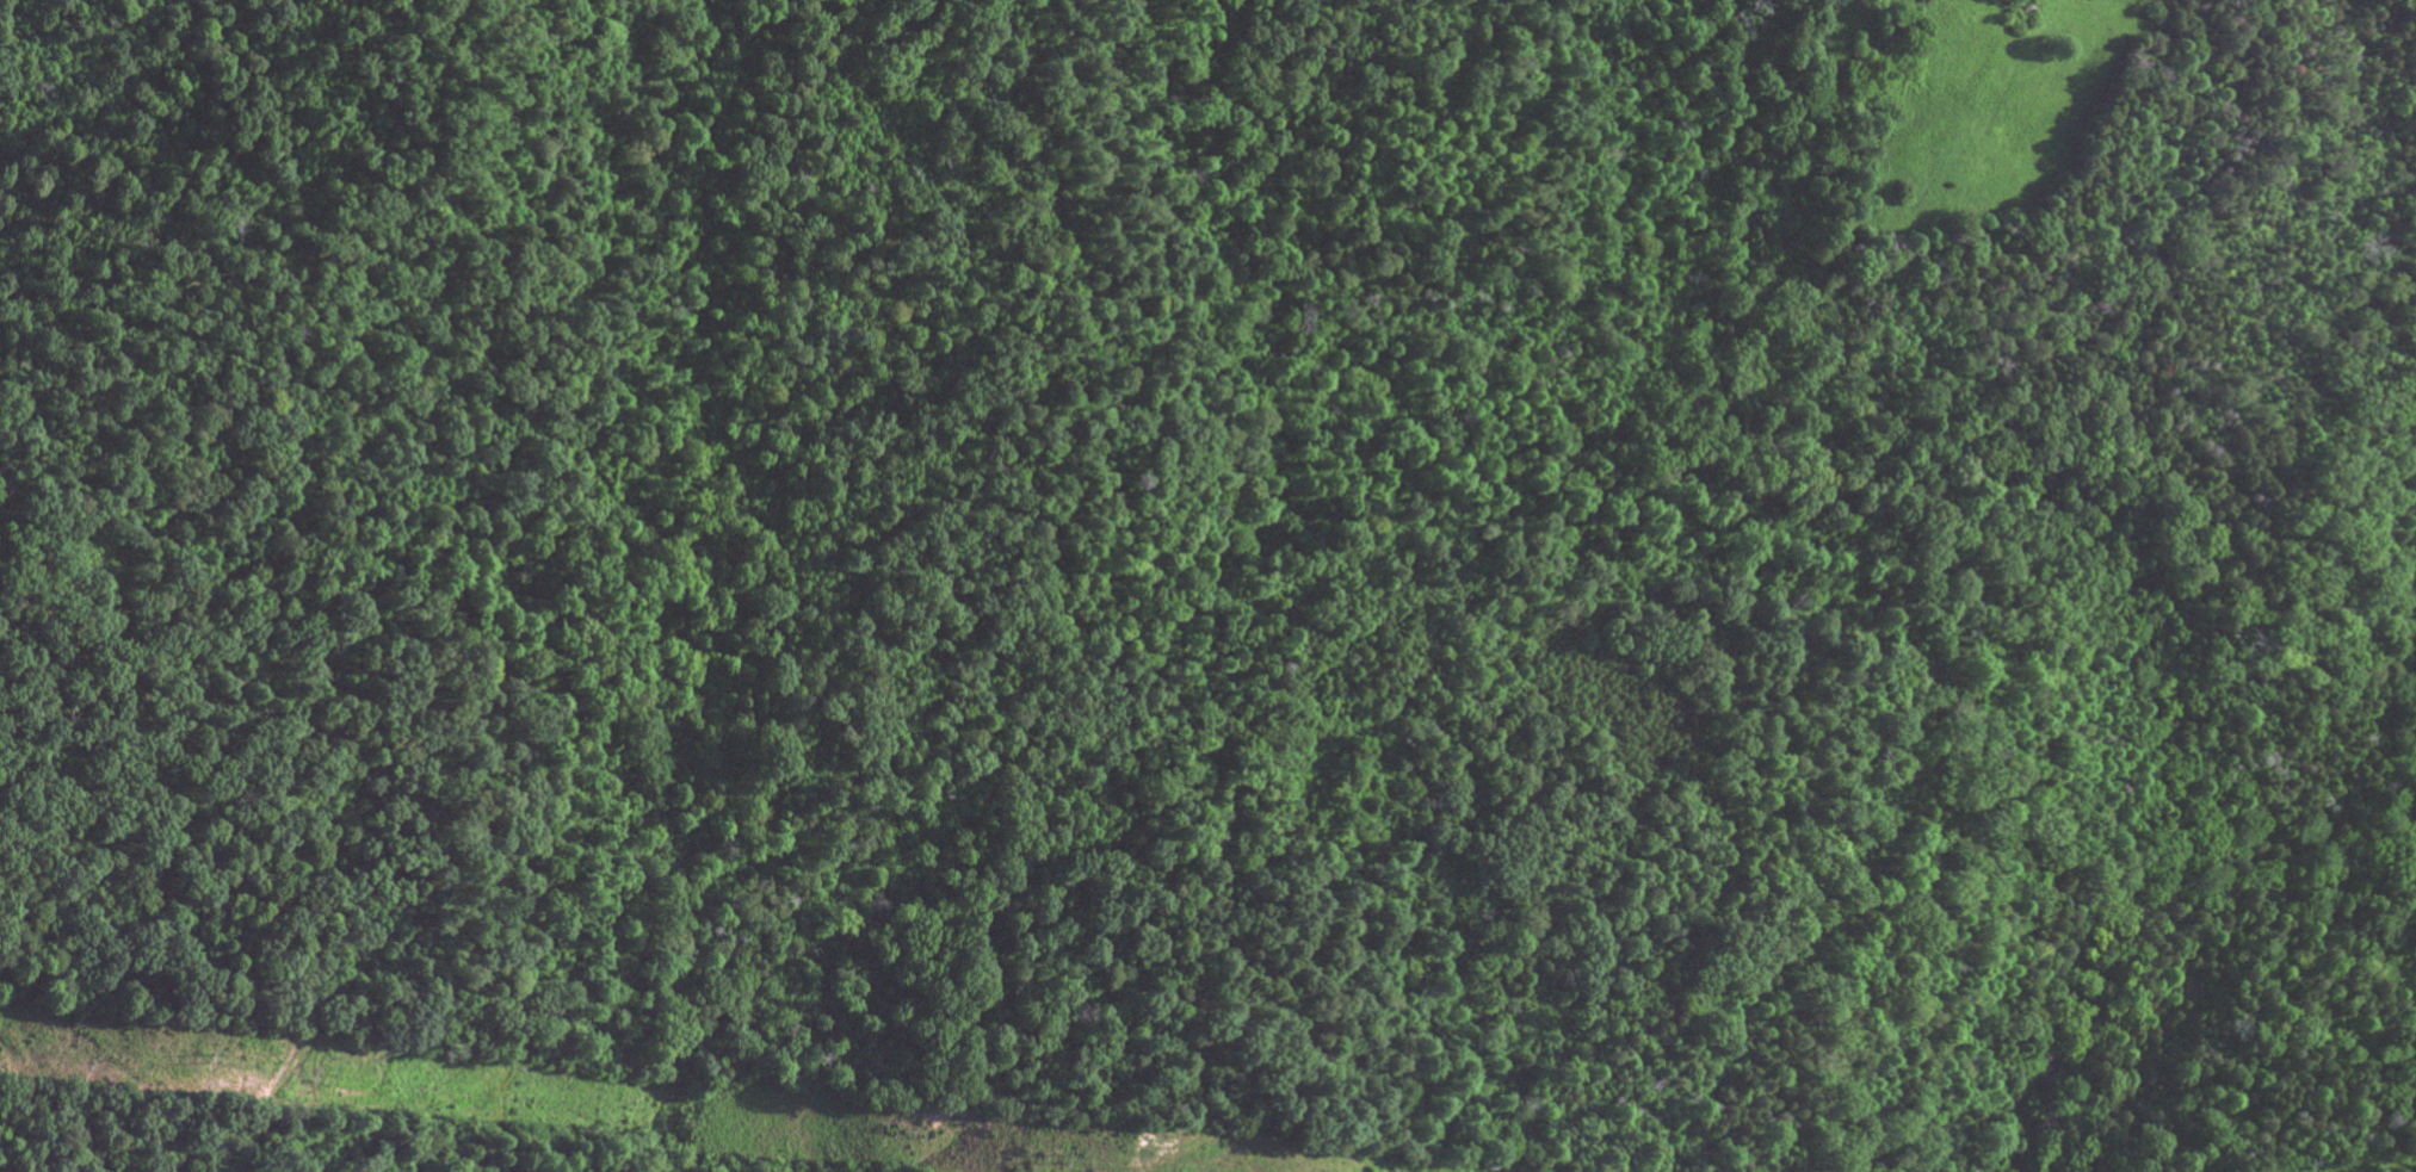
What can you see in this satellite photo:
power tower: (203, 1059)

